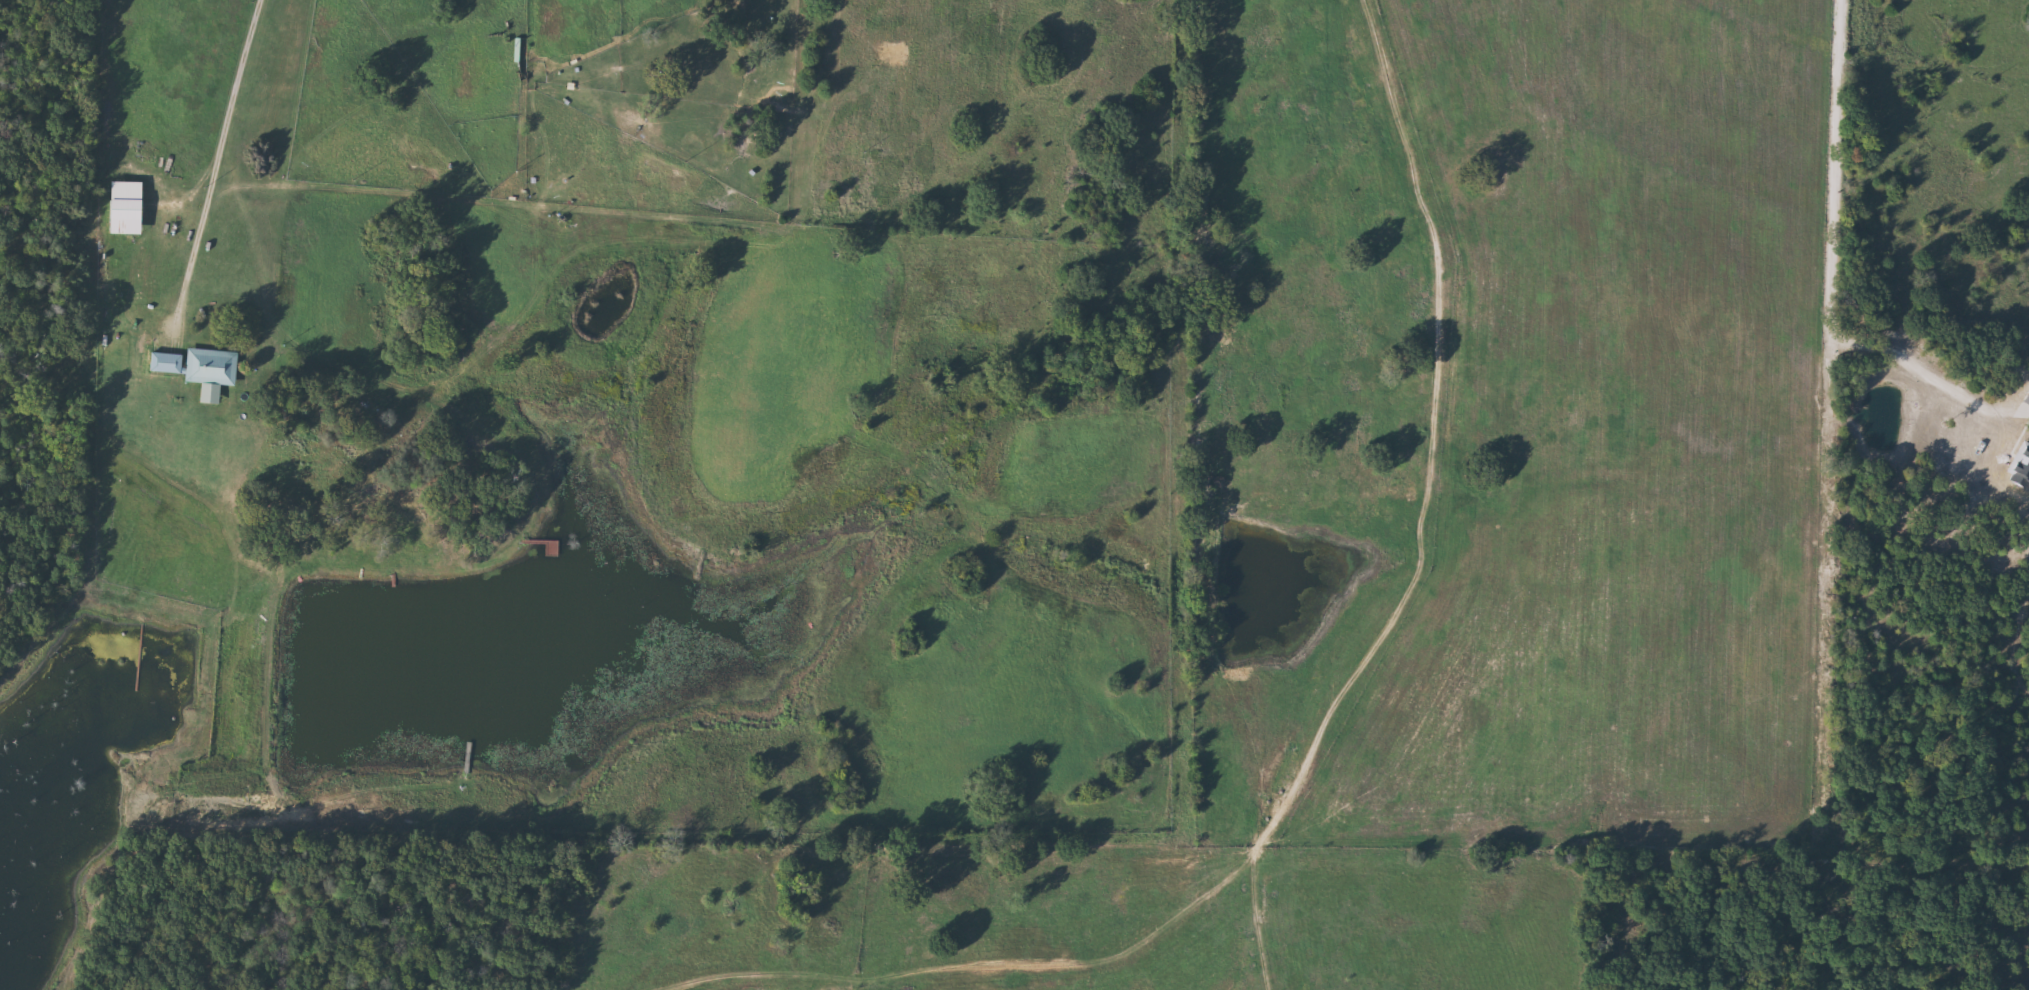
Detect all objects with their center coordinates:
road: (216, 160)
building: (130, 216)
building: (168, 362)
building: (213, 366)
building: (209, 397)
road: (1370, 660)

